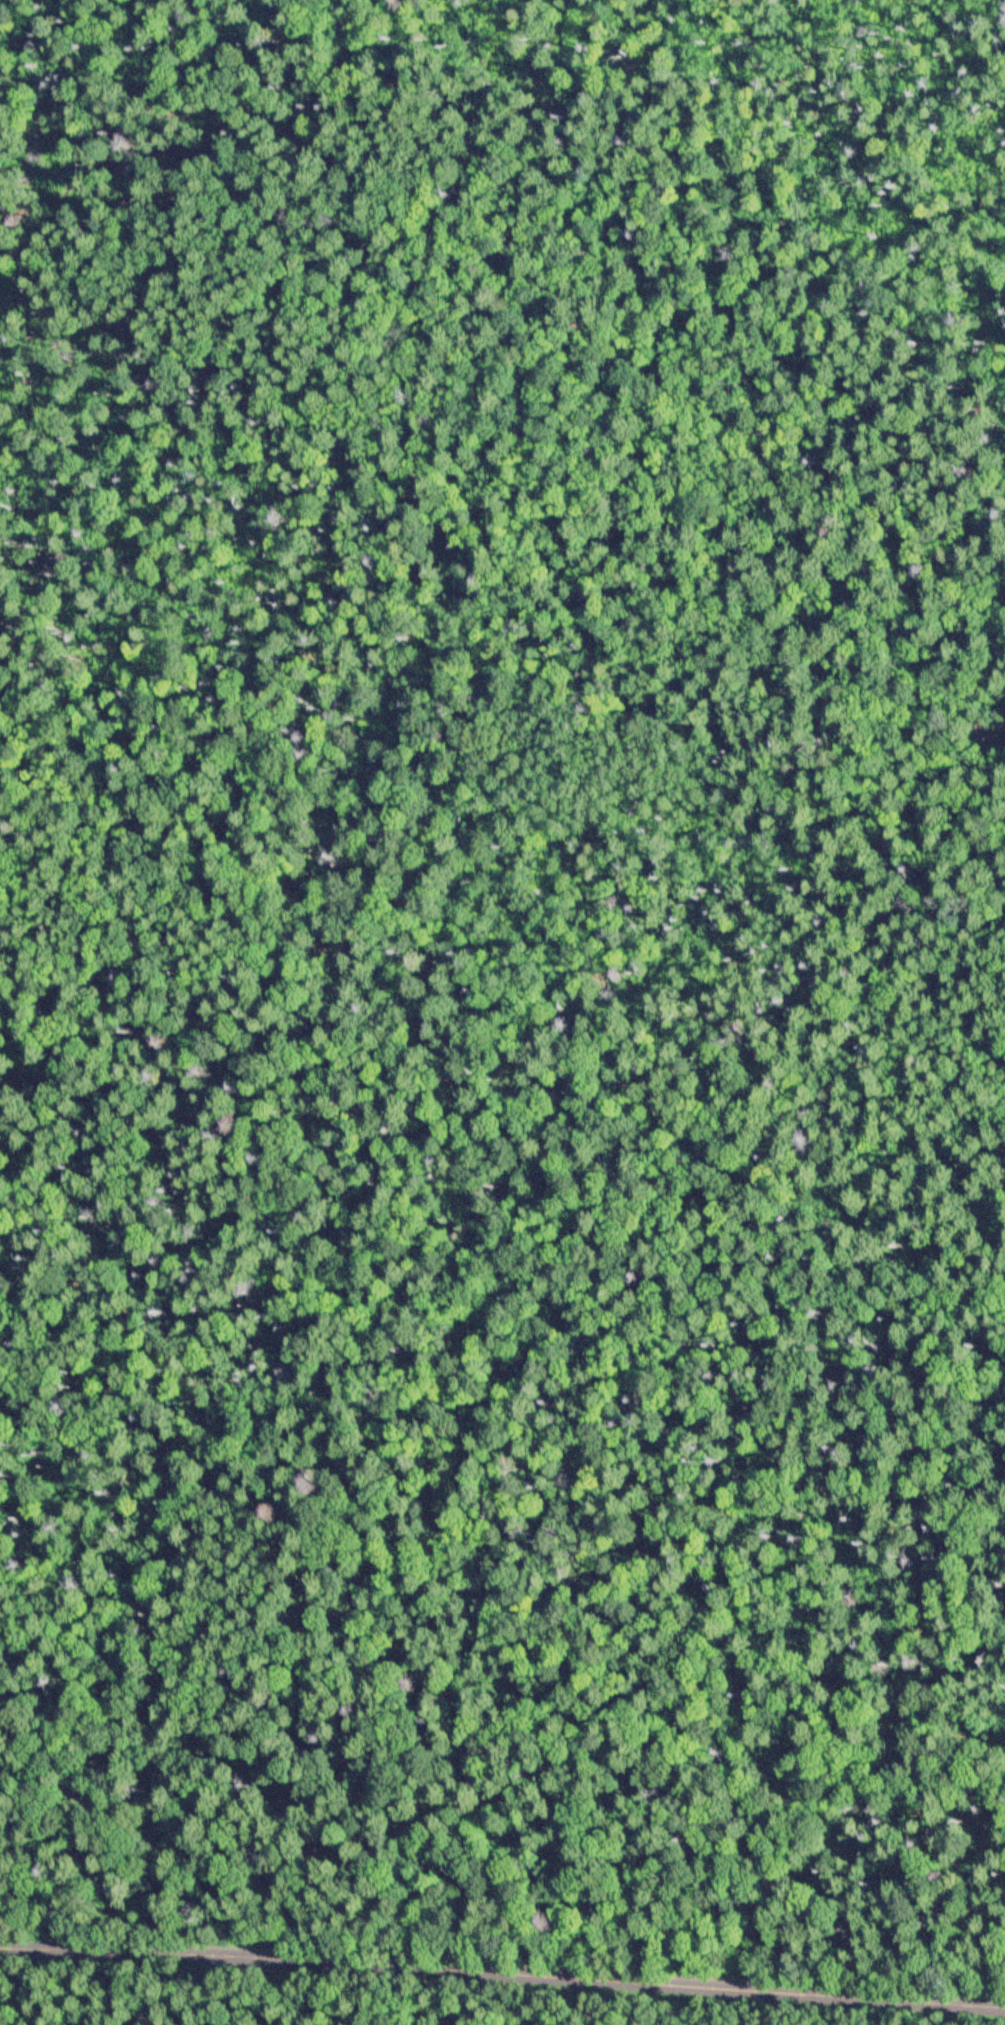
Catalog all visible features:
road: (502, 1980)
road: (285, 1997)

